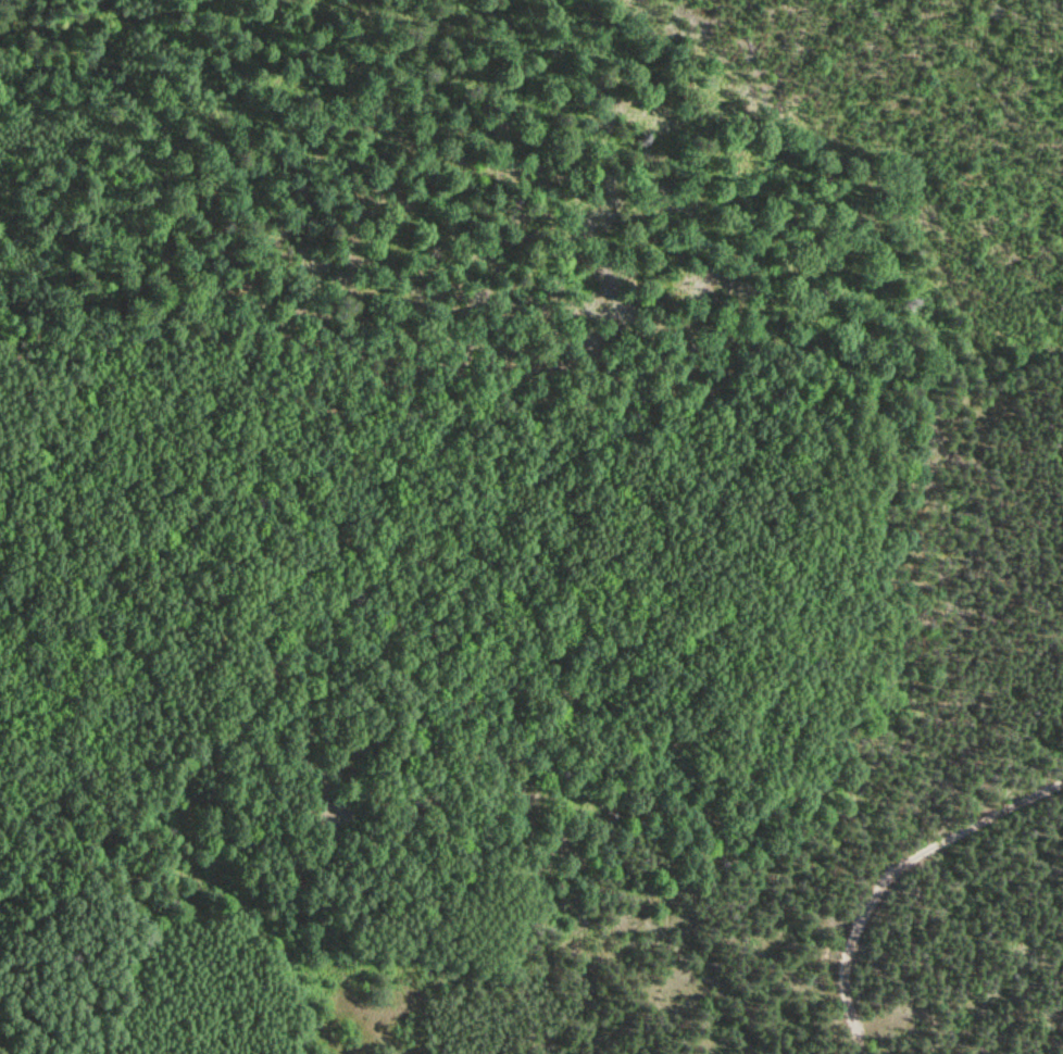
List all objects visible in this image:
road: (891, 874)

